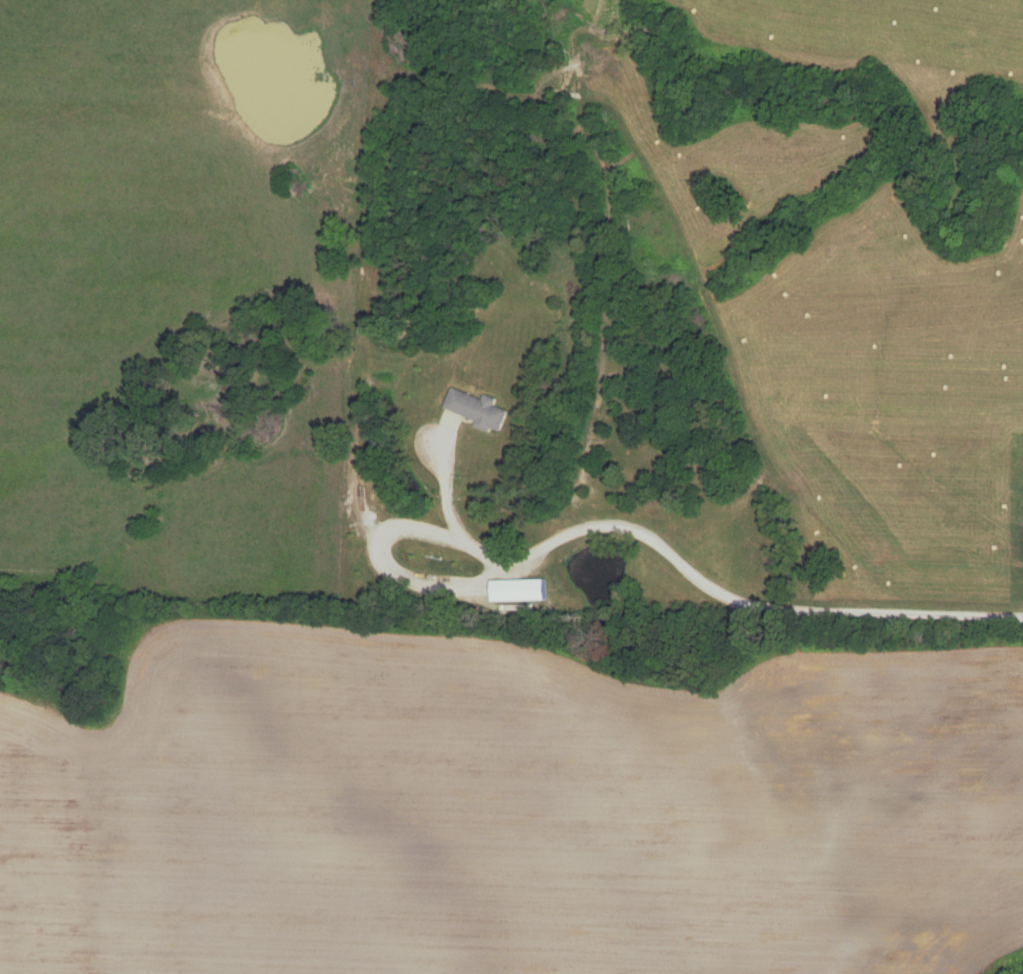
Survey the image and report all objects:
building: (478, 411)
road: (695, 577)
building: (520, 591)

